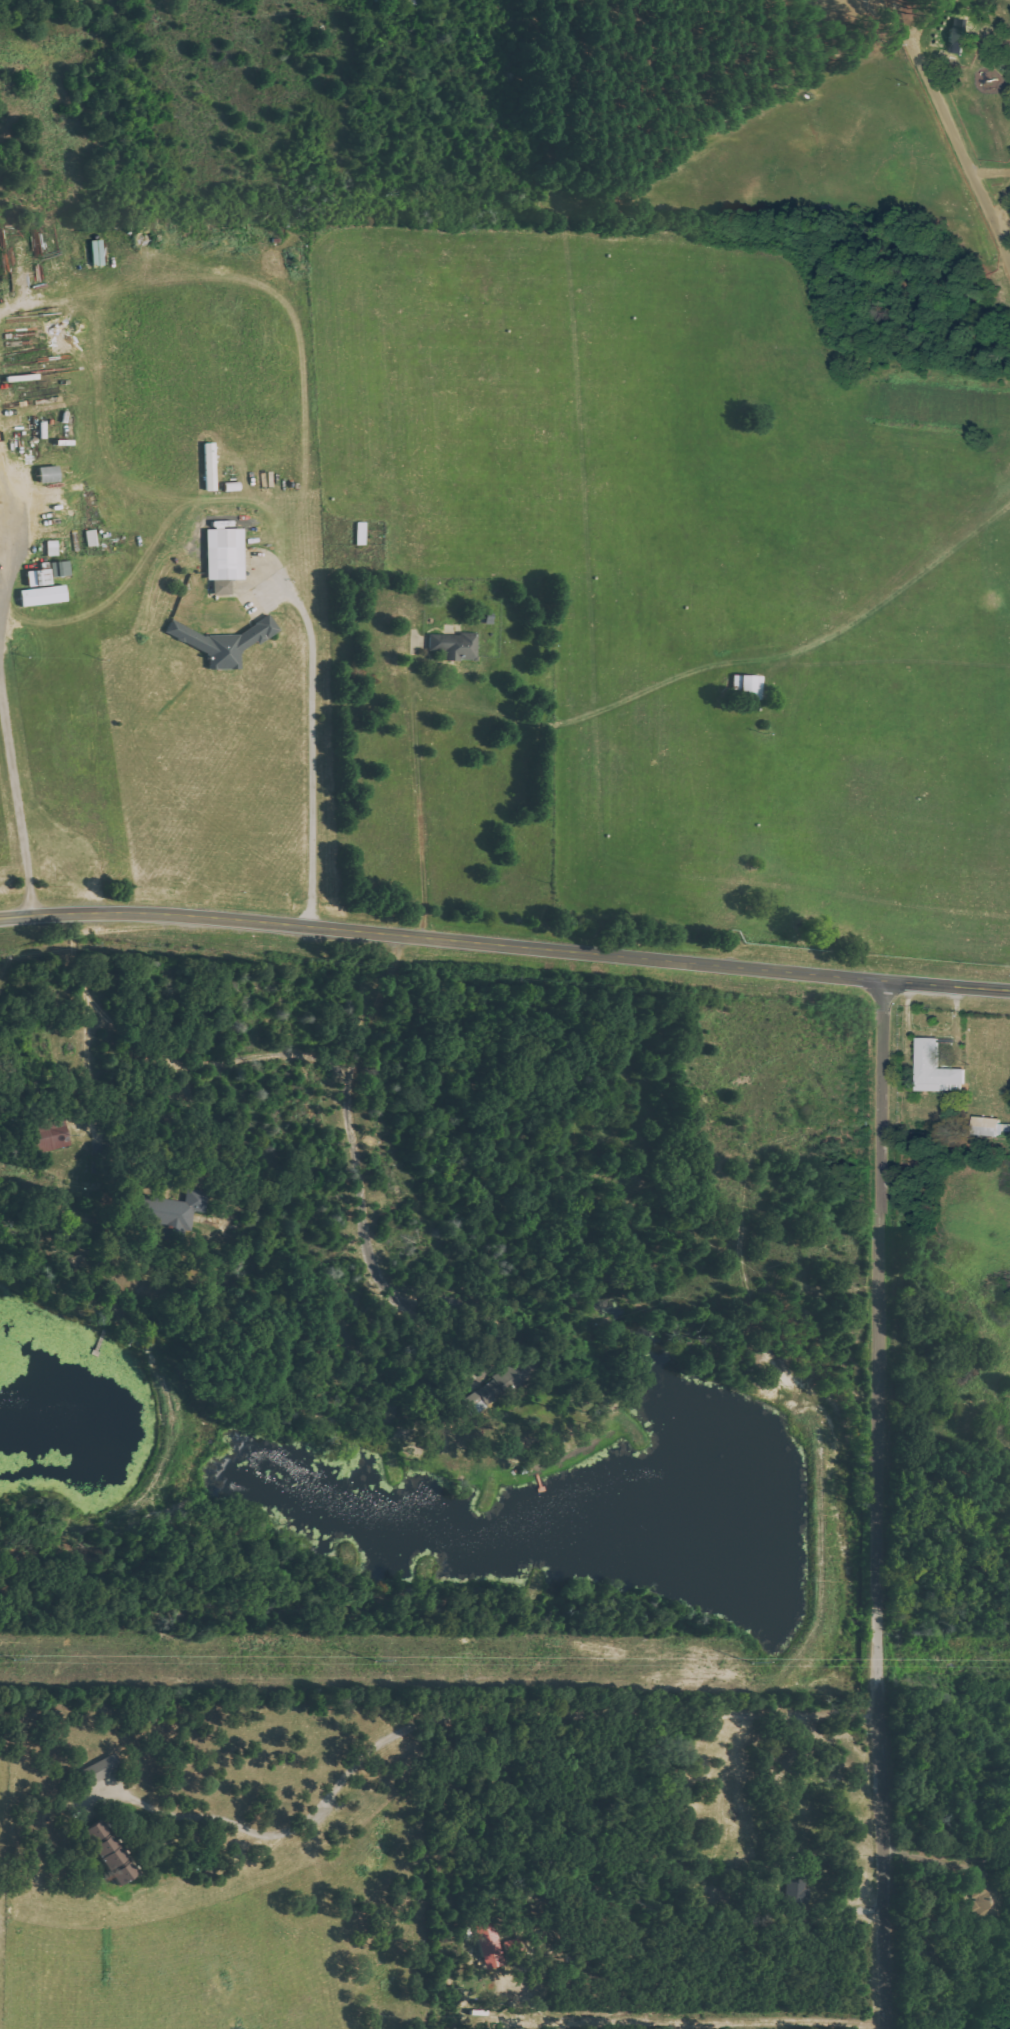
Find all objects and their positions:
building: (957, 34)
road: (1005, 237)
building: (61, 343)
building: (49, 473)
road: (5, 550)
building: (225, 558)
building: (44, 595)
building: (225, 641)
building: (455, 645)
building: (750, 686)
road: (16, 787)
road: (504, 944)
building: (934, 1068)
building: (990, 1127)
building: (52, 1136)
road: (357, 1146)
building: (172, 1209)
building: (496, 1389)
road: (878, 1504)
power tower: (14, 1659)
power tower: (375, 1660)
power tower: (751, 1660)
building: (103, 1769)
building: (109, 1853)
building: (489, 1945)

